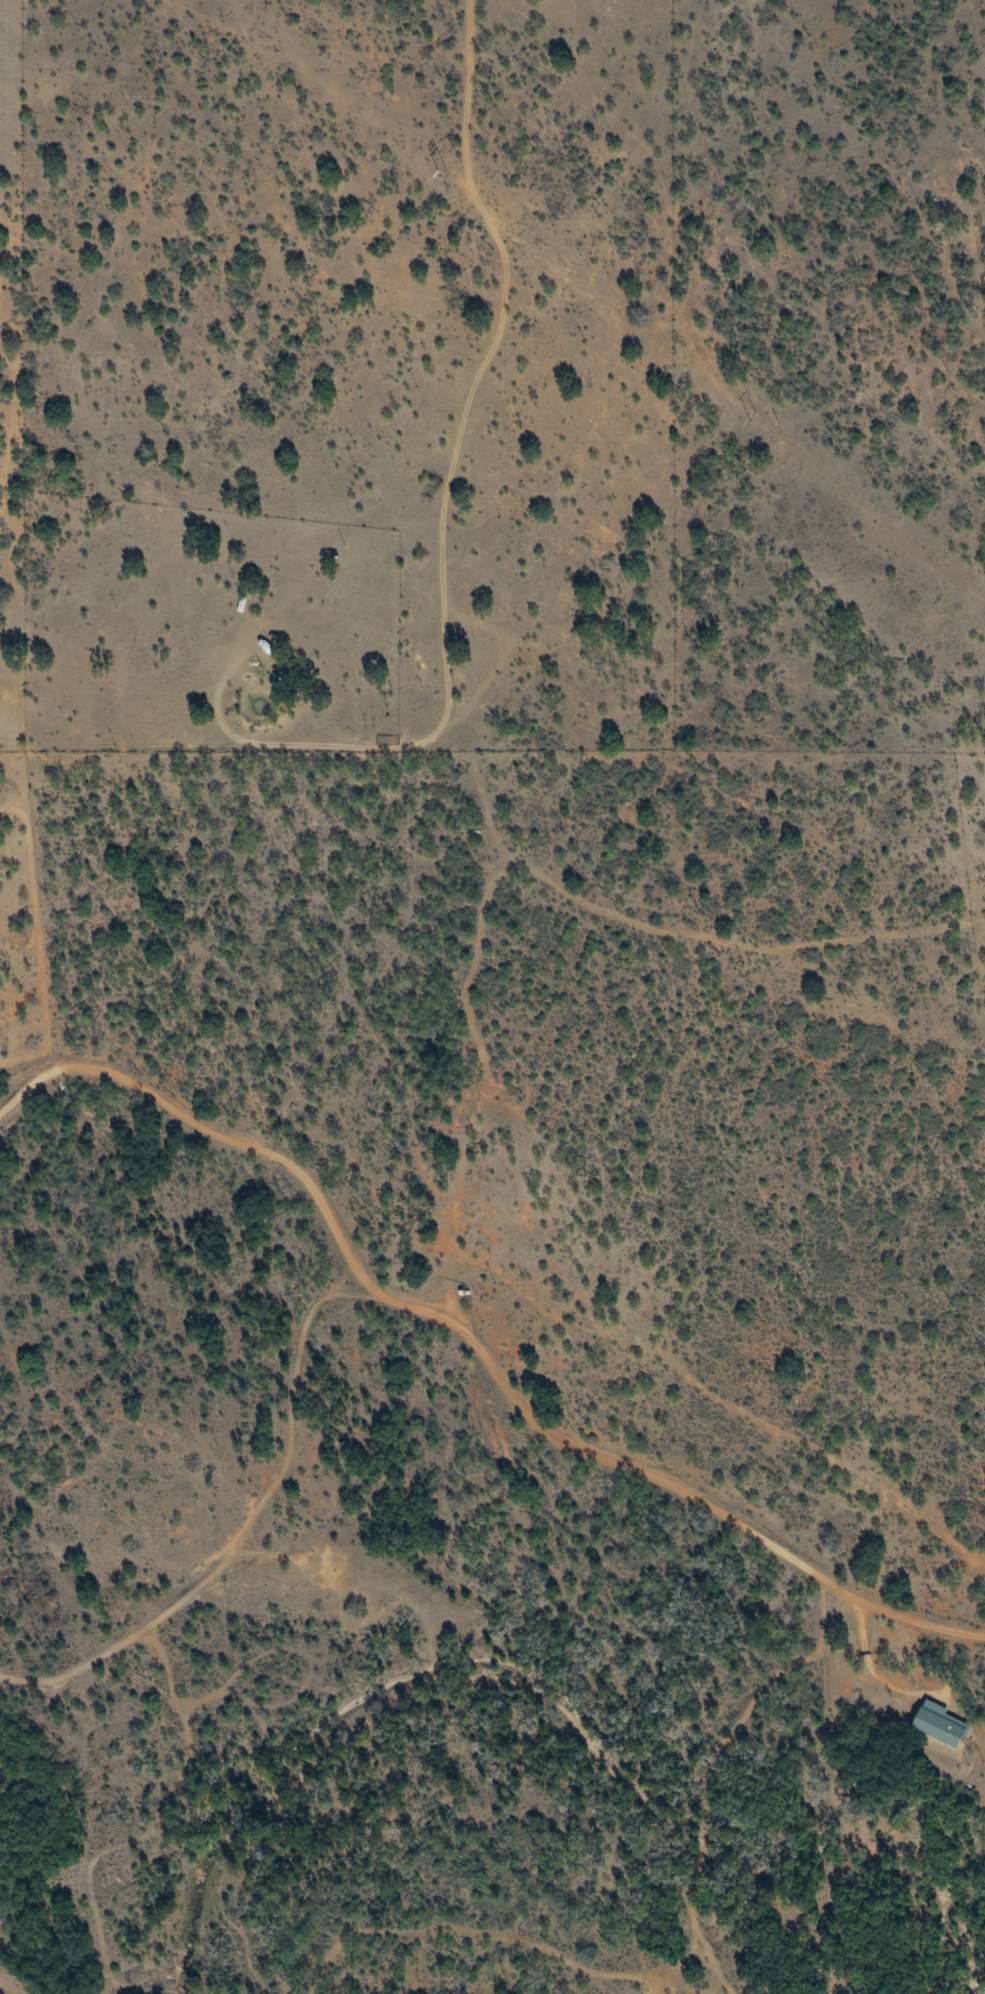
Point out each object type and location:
power tower: (450, 173)
road: (688, 227)
power tower: (755, 422)
road: (339, 499)
road: (839, 533)
road: (441, 1345)
building: (943, 1725)
road: (741, 1793)

